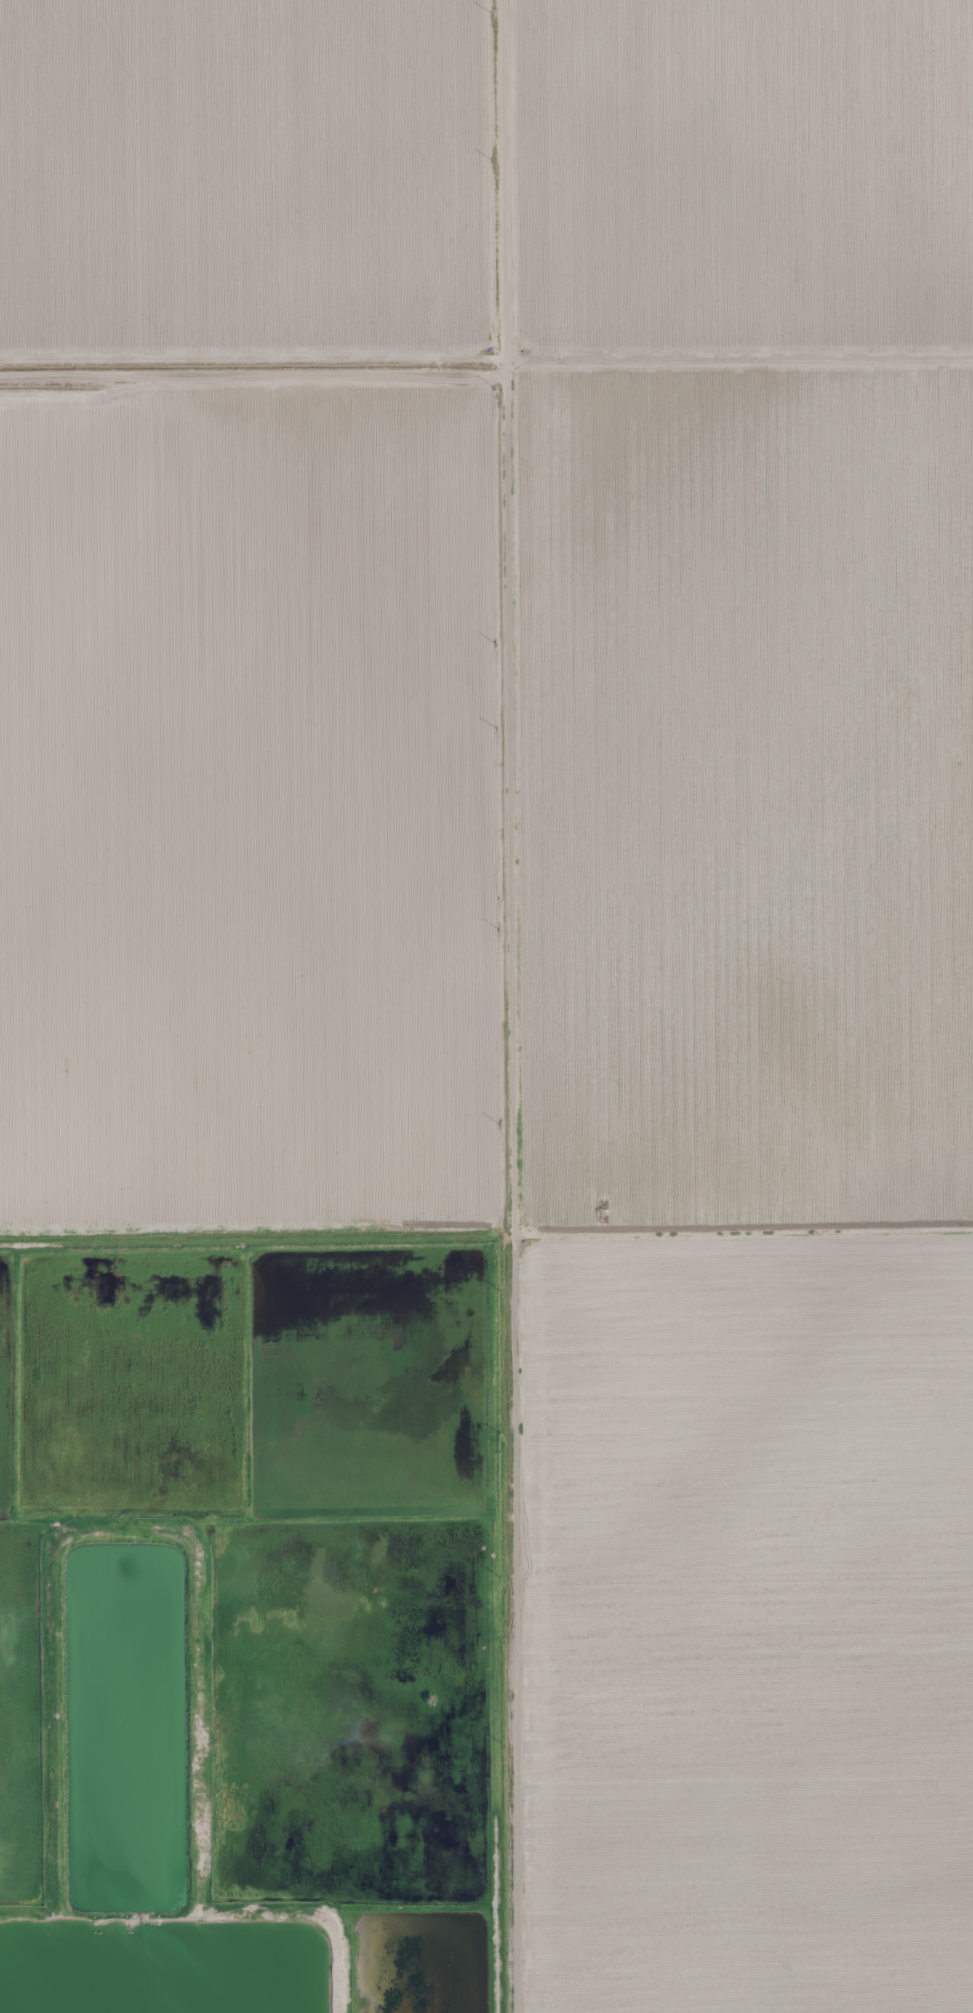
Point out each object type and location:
road: (253, 384)
road: (510, 1006)

